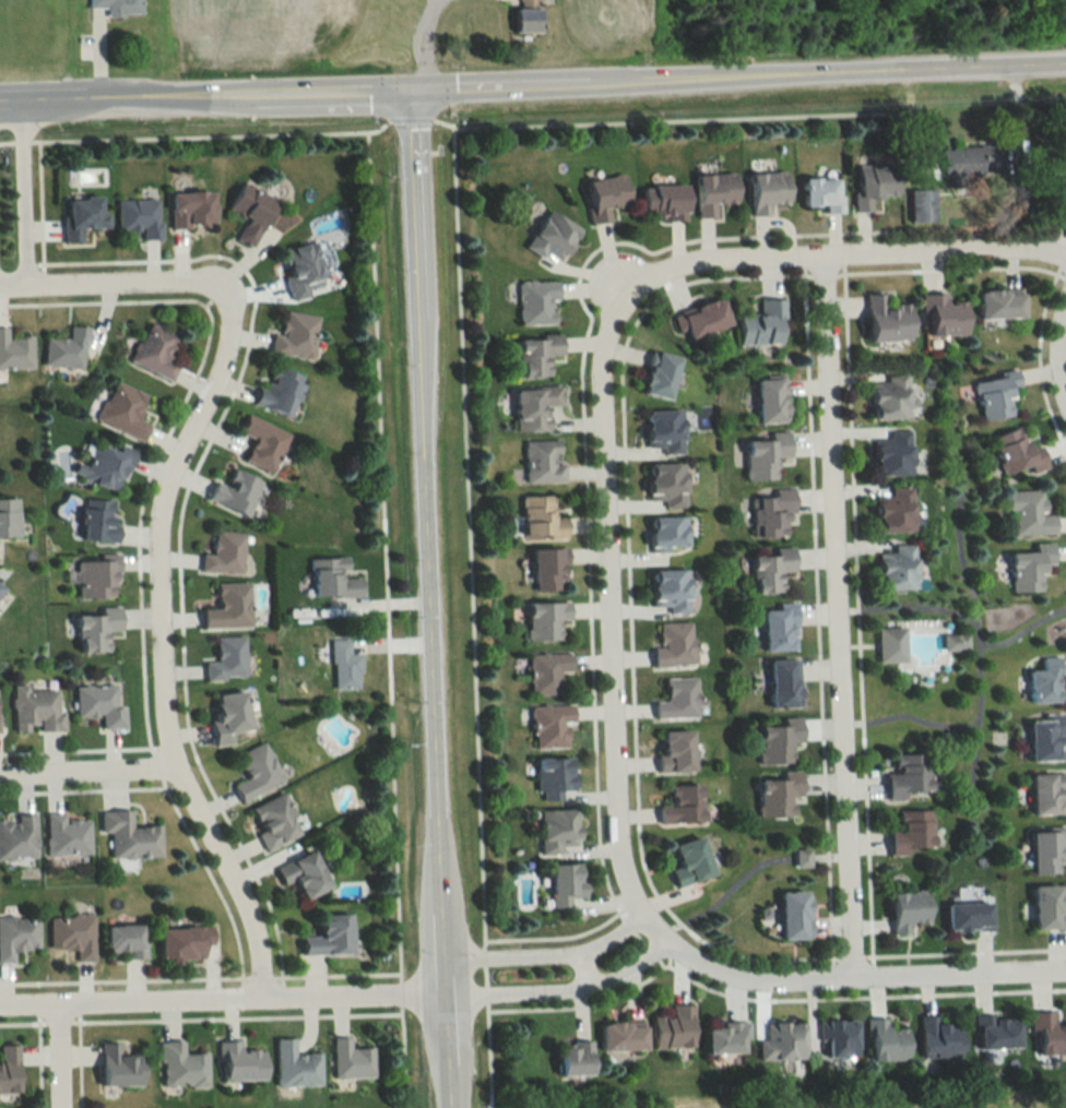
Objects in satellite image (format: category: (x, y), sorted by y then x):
building: (119, 7)
building: (526, 20)
crop: (603, 23)
crop: (261, 29)
road: (423, 45)
road: (533, 88)
road: (213, 131)
road: (24, 138)
road: (8, 139)
building: (974, 158)
building: (875, 184)
building: (1062, 186)
building: (715, 191)
building: (769, 191)
road: (21, 192)
building: (822, 193)
building: (606, 196)
building: (665, 202)
building: (922, 205)
building: (191, 210)
building: (251, 213)
building: (83, 216)
building: (140, 216)
building: (553, 237)
road: (843, 249)
building: (300, 270)
road: (96, 286)
building: (537, 303)
building: (1002, 305)
building: (946, 314)
building: (702, 319)
building: (888, 320)
building: (763, 324)
building: (295, 336)
road: (1059, 348)
building: (67, 349)
building: (155, 350)
building: (14, 352)
building: (537, 355)
building: (661, 376)
building: (280, 391)
building: (996, 395)
building: (891, 397)
building: (772, 401)
building: (535, 408)
building: (123, 410)
road: (379, 412)
building: (665, 431)
building: (262, 443)
building: (1018, 453)
building: (893, 454)
building: (765, 456)
building: (543, 462)
building: (106, 466)
building: (667, 485)
building: (235, 491)
building: (897, 511)
building: (1028, 514)
building: (773, 515)
building: (542, 519)
building: (9, 520)
building: (99, 521)
building: (670, 534)
building: (224, 553)
building: (900, 567)
building: (1030, 568)
building: (549, 569)
building: (772, 570)
building: (97, 580)
building: (332, 580)
road: (469, 584)
building: (1, 589)
building: (672, 591)
road: (612, 597)
road: (422, 601)
building: (228, 607)
road: (839, 610)
building: (546, 620)
building: (96, 629)
building: (781, 629)
road: (157, 640)
building: (676, 645)
building: (891, 645)
building: (226, 659)
building: (343, 666)
building: (548, 672)
building: (1045, 681)
building: (785, 684)
building: (679, 700)
building: (98, 705)
building: (36, 710)
building: (228, 715)
building: (552, 726)
building: (1045, 739)
building: (780, 742)
building: (677, 751)
building: (256, 772)
road: (84, 775)
building: (909, 776)
building: (557, 778)
building: (1049, 794)
building: (779, 795)
building: (684, 805)
building: (274, 822)
building: (558, 830)
building: (912, 833)
building: (66, 835)
building: (129, 835)
road: (396, 836)
building: (17, 837)
building: (1047, 851)
building: (692, 861)
building: (305, 874)
building: (568, 884)
building: (1050, 907)
building: (909, 910)
building: (795, 916)
building: (969, 917)
building: (72, 934)
building: (17, 936)
building: (331, 937)
building: (125, 941)
building: (183, 943)
road: (549, 952)
road: (588, 966)
road: (844, 972)
road: (564, 987)
road: (402, 990)
road: (223, 1000)
building: (675, 1028)
building: (997, 1033)
building: (1049, 1033)
building: (624, 1037)
building: (839, 1038)
building: (727, 1039)
building: (940, 1039)
building: (782, 1043)
building: (886, 1043)
road: (403, 1055)
road: (55, 1059)
building: (576, 1060)
building: (352, 1061)
building: (240, 1063)
building: (181, 1067)
building: (296, 1067)
building: (119, 1068)
building: (9, 1069)

